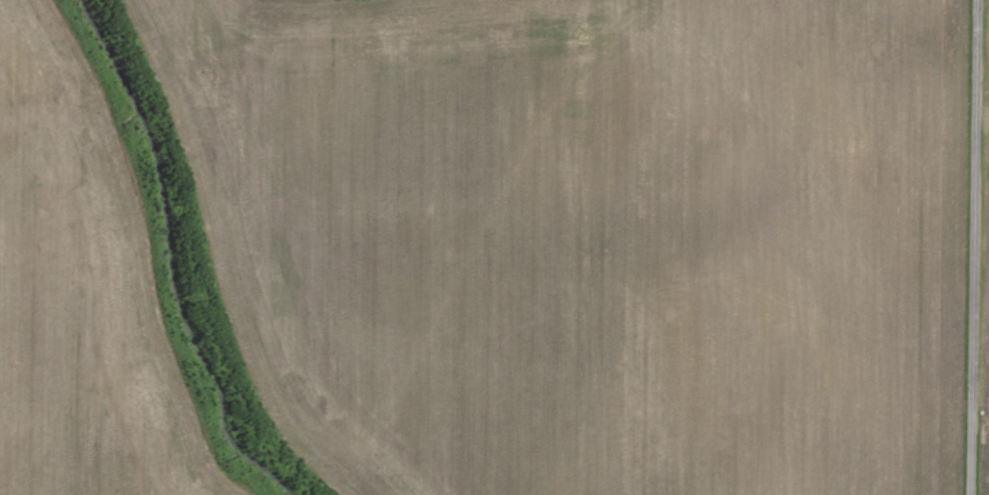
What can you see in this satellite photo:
road: (976, 247)

